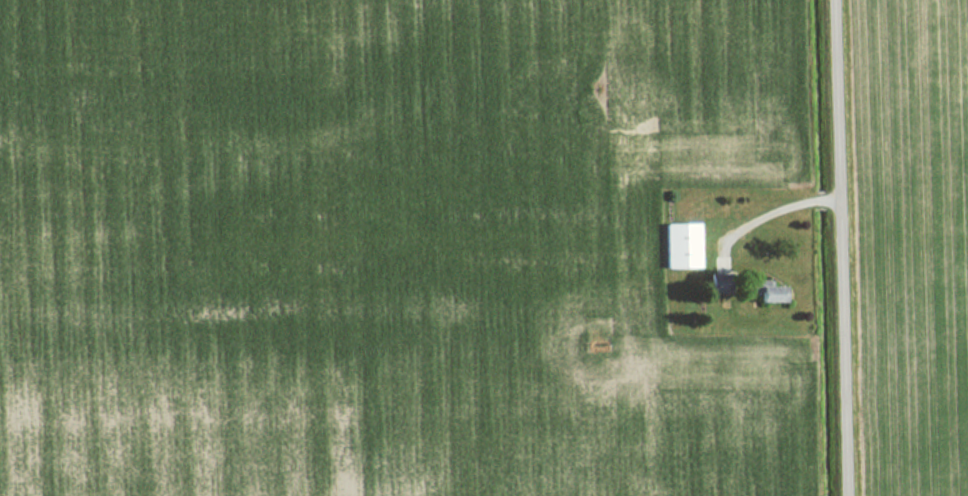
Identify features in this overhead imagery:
crop: (923, 241)
building: (678, 246)
road: (843, 248)
crop: (383, 249)

